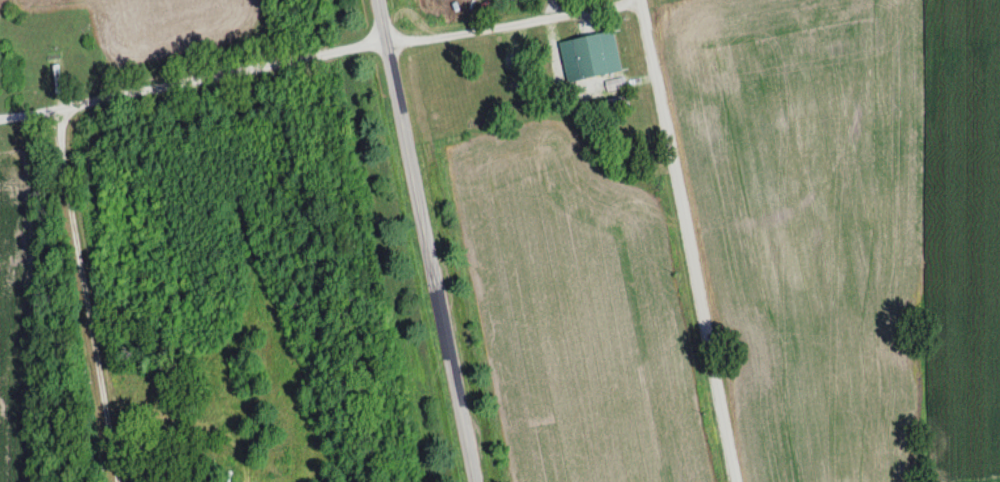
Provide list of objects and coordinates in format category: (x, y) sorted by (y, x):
building: (43, 17)
road: (482, 30)
building: (589, 55)
building: (614, 103)
road: (64, 168)
road: (687, 240)
road: (428, 241)
building: (232, 343)

